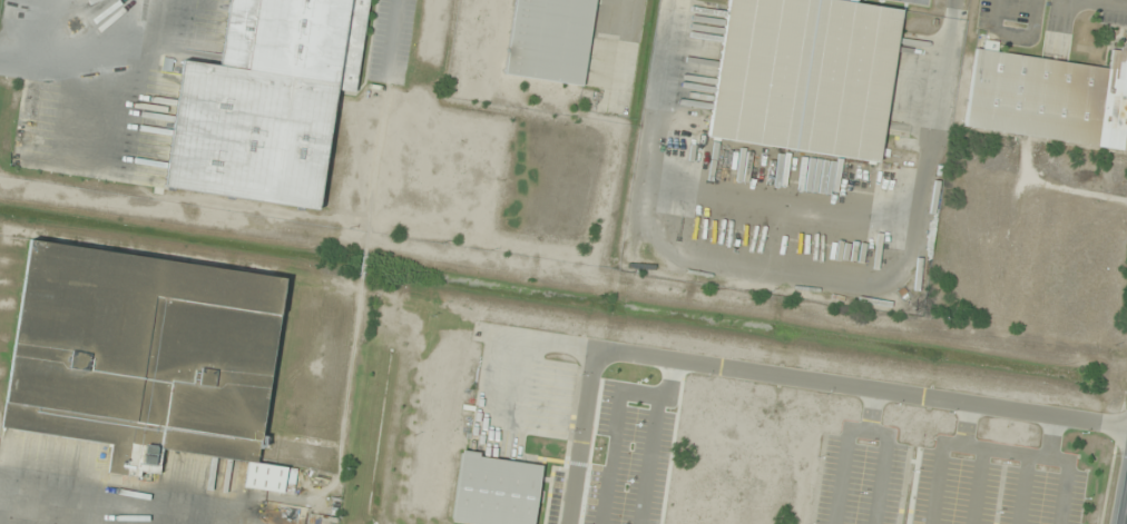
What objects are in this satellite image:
building: (548, 40)
building: (802, 76)
building: (1048, 97)
building: (264, 101)
road: (507, 356)
building: (145, 357)
road: (775, 378)
road: (870, 412)
road: (962, 425)
road: (864, 431)
road: (1049, 437)
road: (994, 449)
parking lot: (859, 475)
parking lot: (994, 484)
road: (976, 486)
road: (1022, 490)
building: (492, 491)

